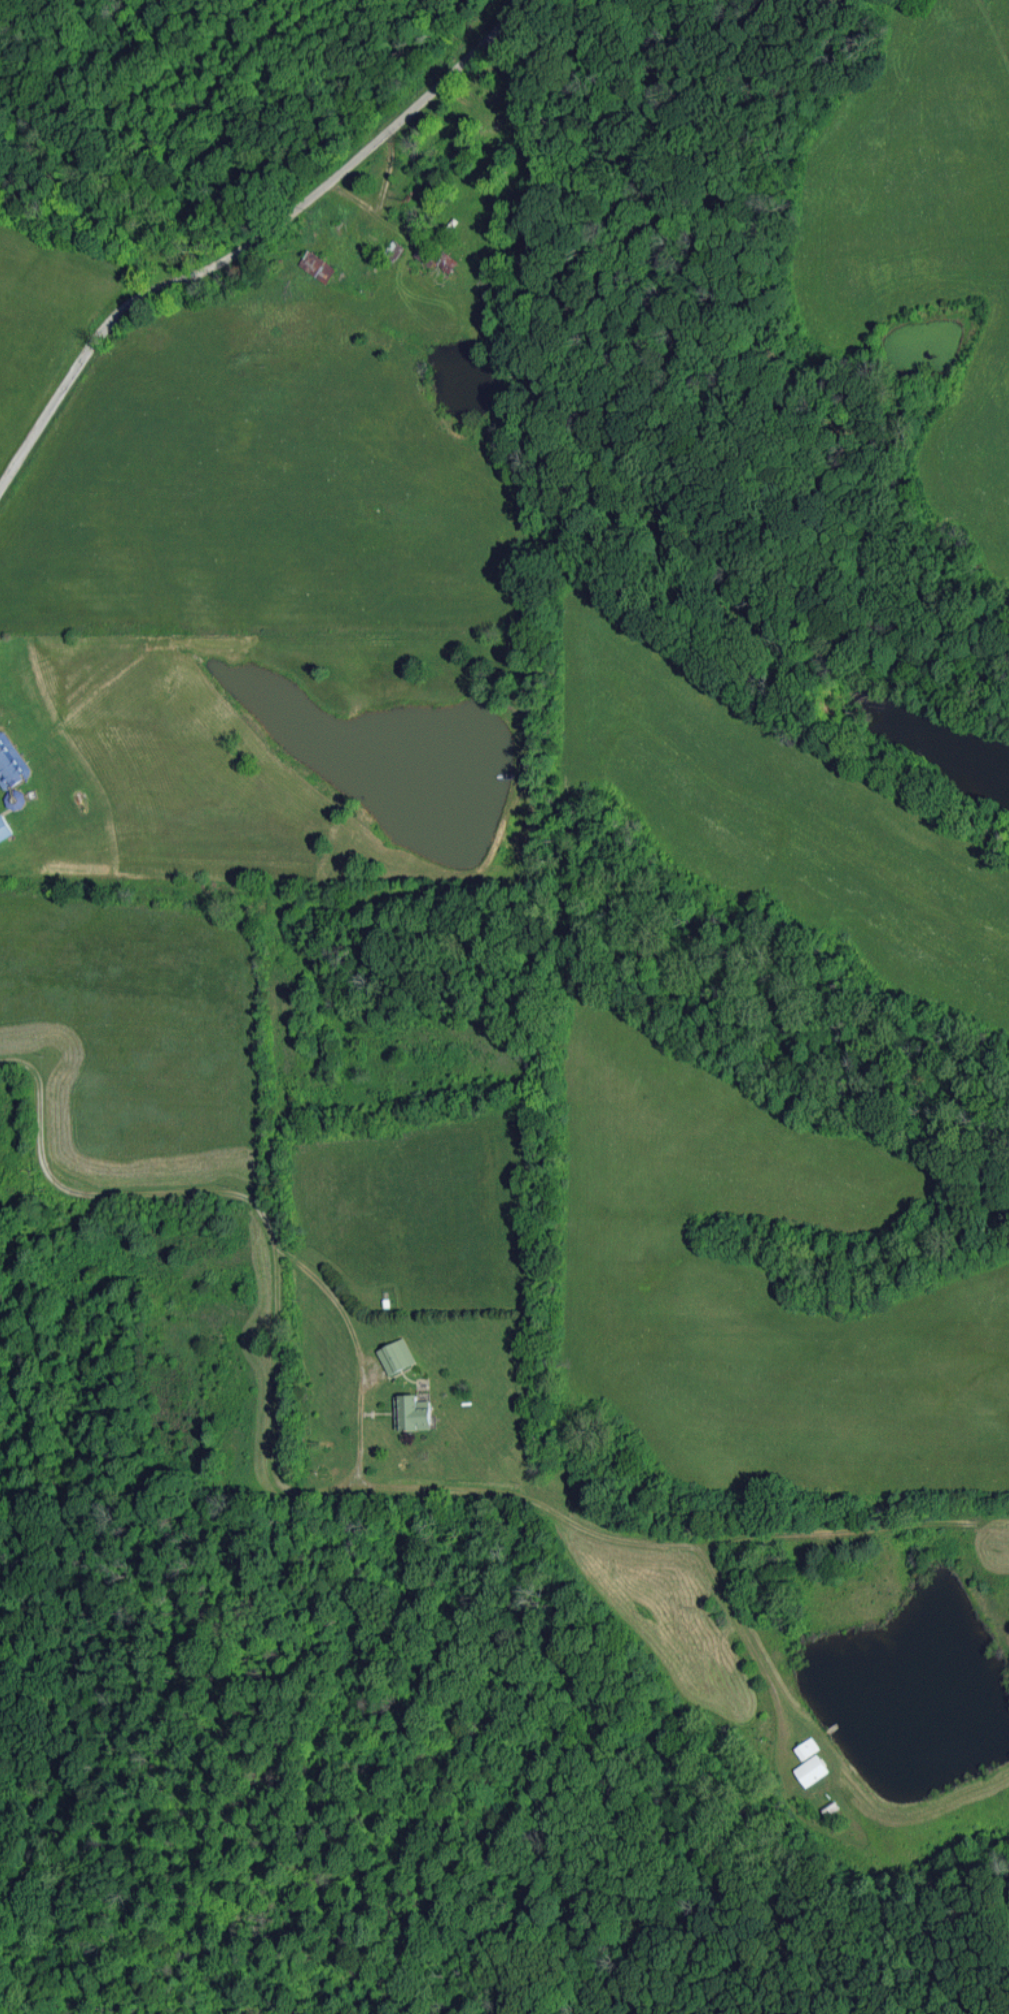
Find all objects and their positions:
road: (247, 244)
building: (11, 762)
building: (4, 828)
building: (397, 1355)
building: (413, 1413)
building: (808, 1748)
building: (812, 1770)

